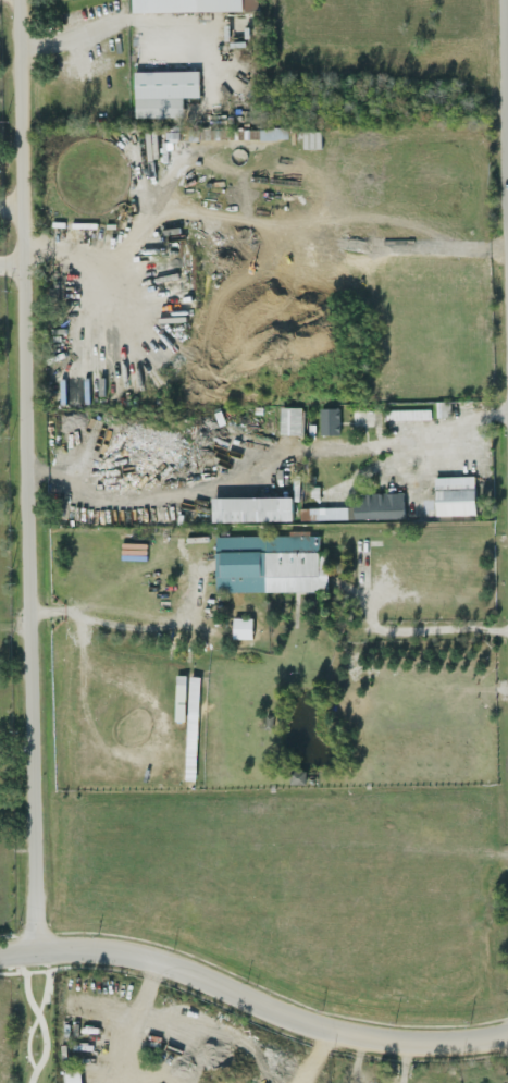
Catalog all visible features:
building: (186, 5)
road: (505, 20)
road: (124, 28)
building: (163, 91)
road: (504, 141)
road: (507, 201)
road: (11, 206)
building: (288, 419)
building: (329, 420)
road: (428, 442)
road: (27, 473)
building: (454, 497)
building: (364, 507)
building: (268, 564)
road: (110, 618)
road: (423, 624)
building: (241, 627)
road: (251, 1001)
road: (252, 1018)
road: (33, 1019)
road: (41, 1026)
building: (72, 1076)

